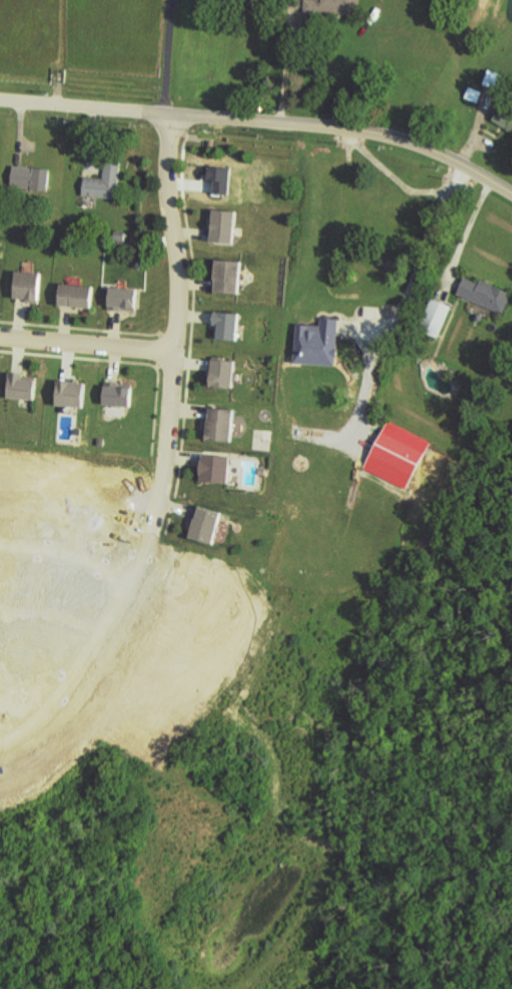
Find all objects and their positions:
building: (249, 0)
building: (334, 7)
road: (170, 57)
road: (286, 72)
building: (496, 79)
building: (505, 118)
road: (262, 122)
building: (32, 179)
building: (105, 180)
building: (225, 225)
road: (472, 227)
building: (120, 236)
building: (229, 277)
building: (29, 286)
building: (486, 294)
building: (78, 295)
building: (125, 298)
road: (402, 303)
building: (437, 317)
road: (178, 323)
building: (227, 325)
road: (88, 342)
building: (319, 342)
building: (223, 371)
building: (23, 385)
building: (74, 394)
building: (119, 394)
building: (222, 424)
building: (100, 441)
building: (398, 455)
building: (217, 468)
building: (208, 524)
road: (91, 563)
road: (75, 666)

